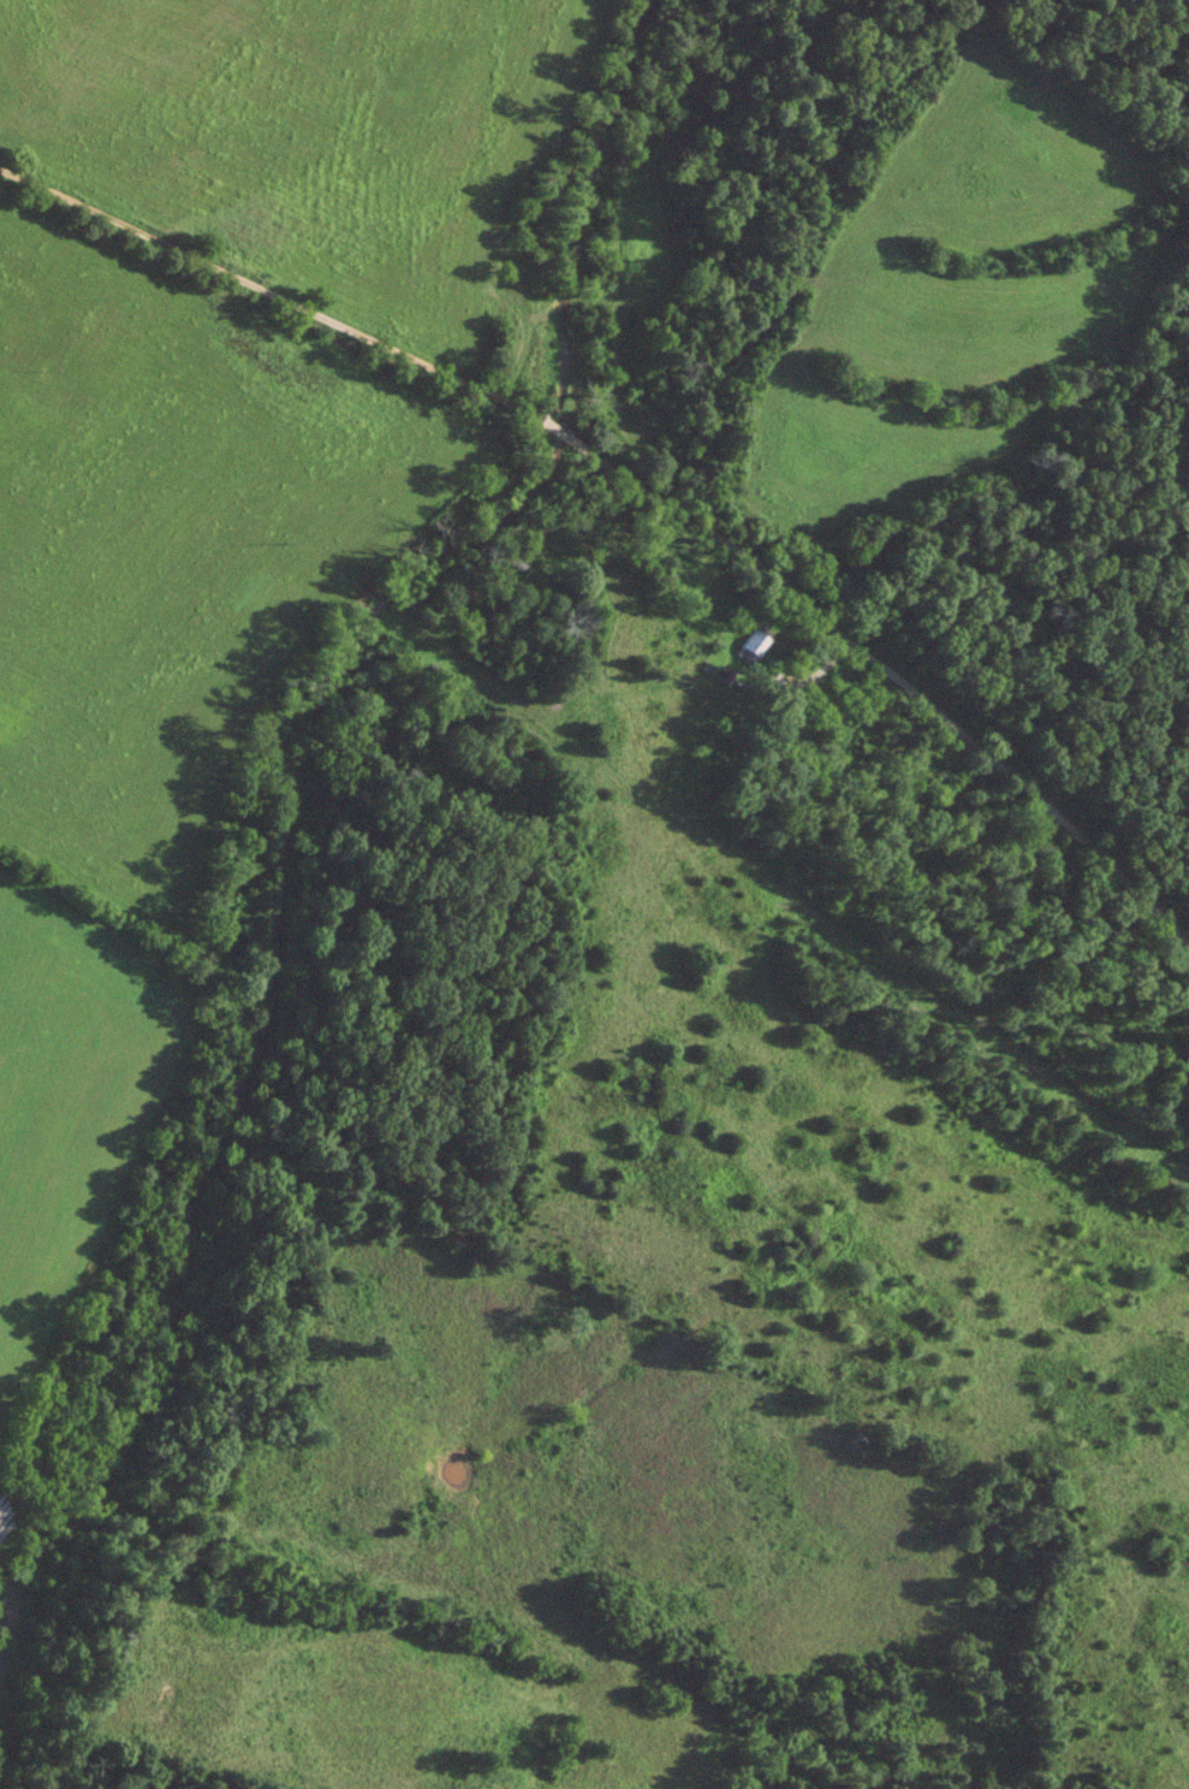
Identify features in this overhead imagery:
road: (642, 473)
building: (751, 647)

